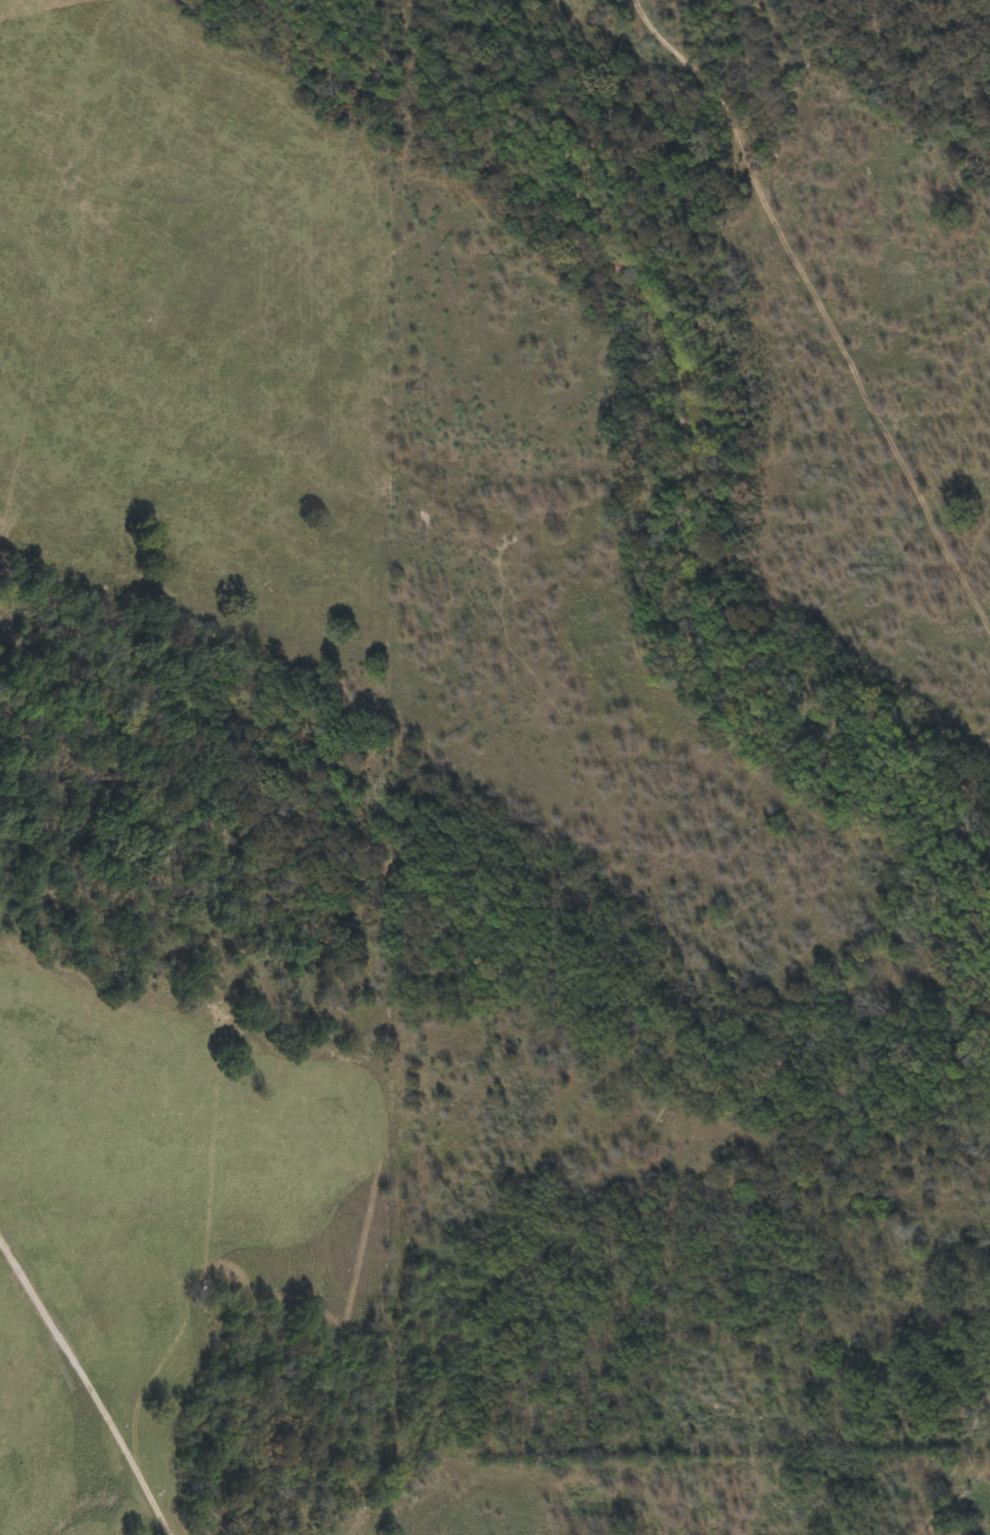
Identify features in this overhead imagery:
road: (86, 1384)
road: (953, 1488)

